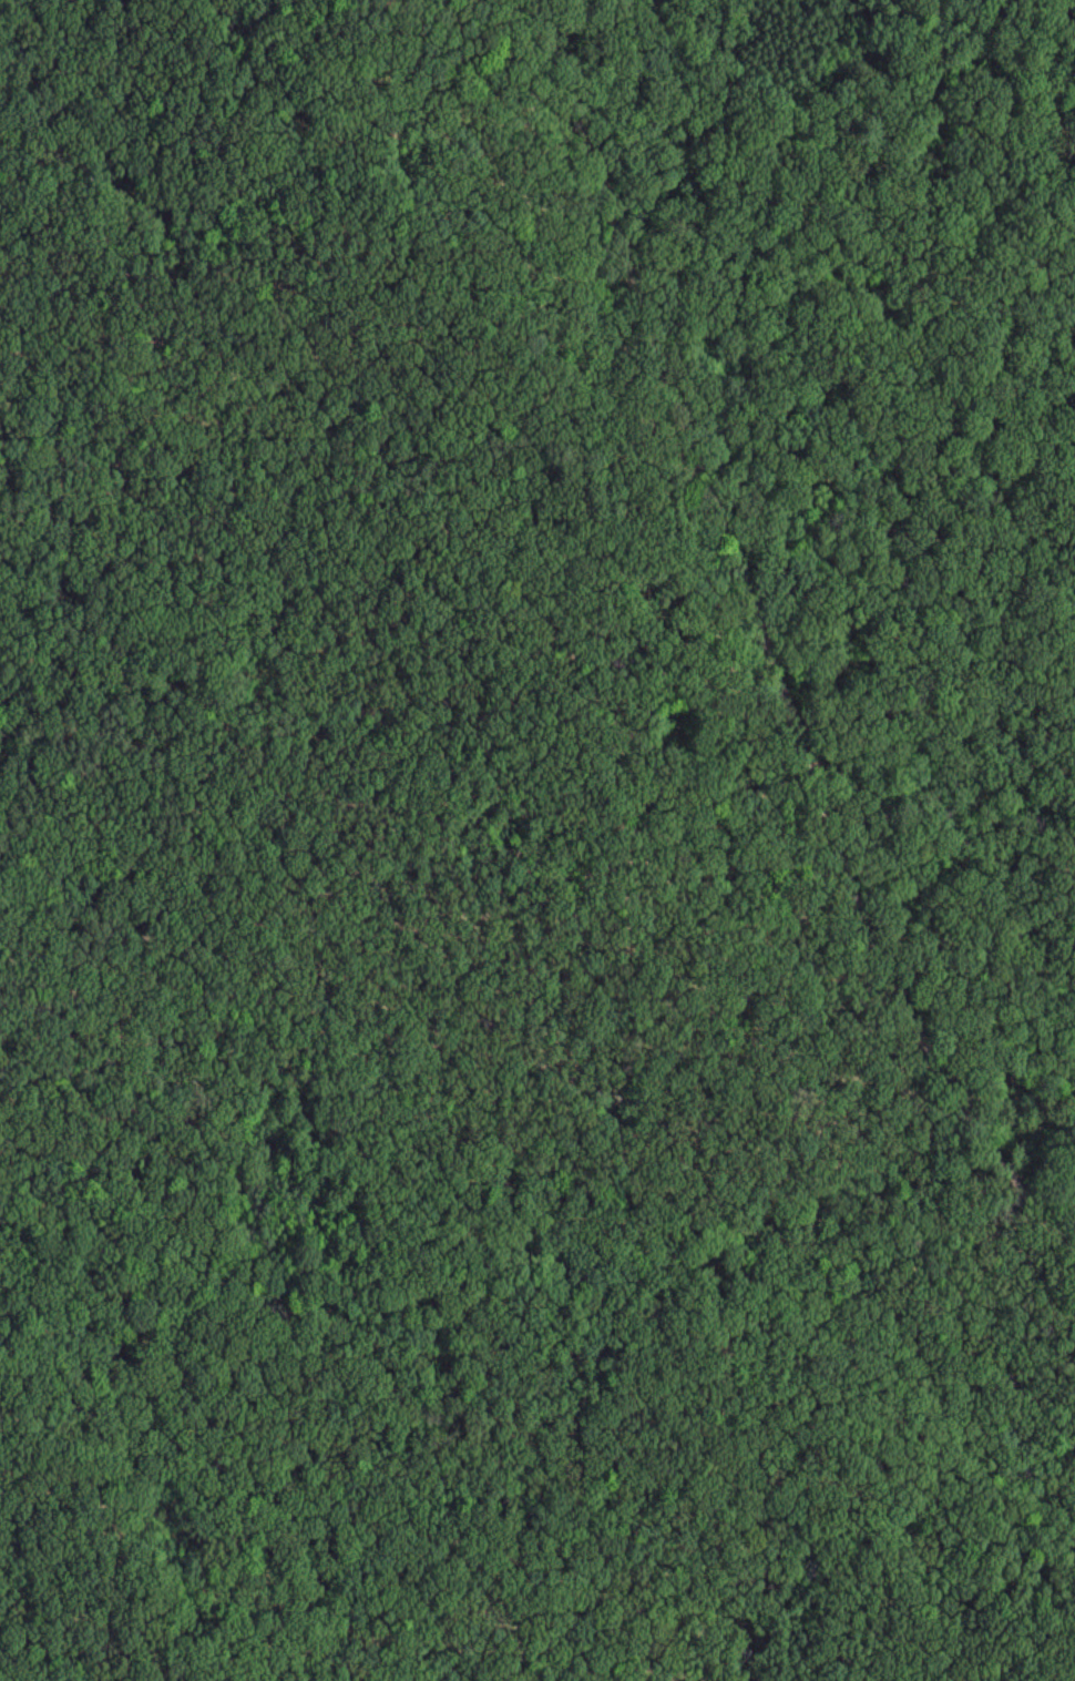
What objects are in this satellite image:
road: (769, 641)

